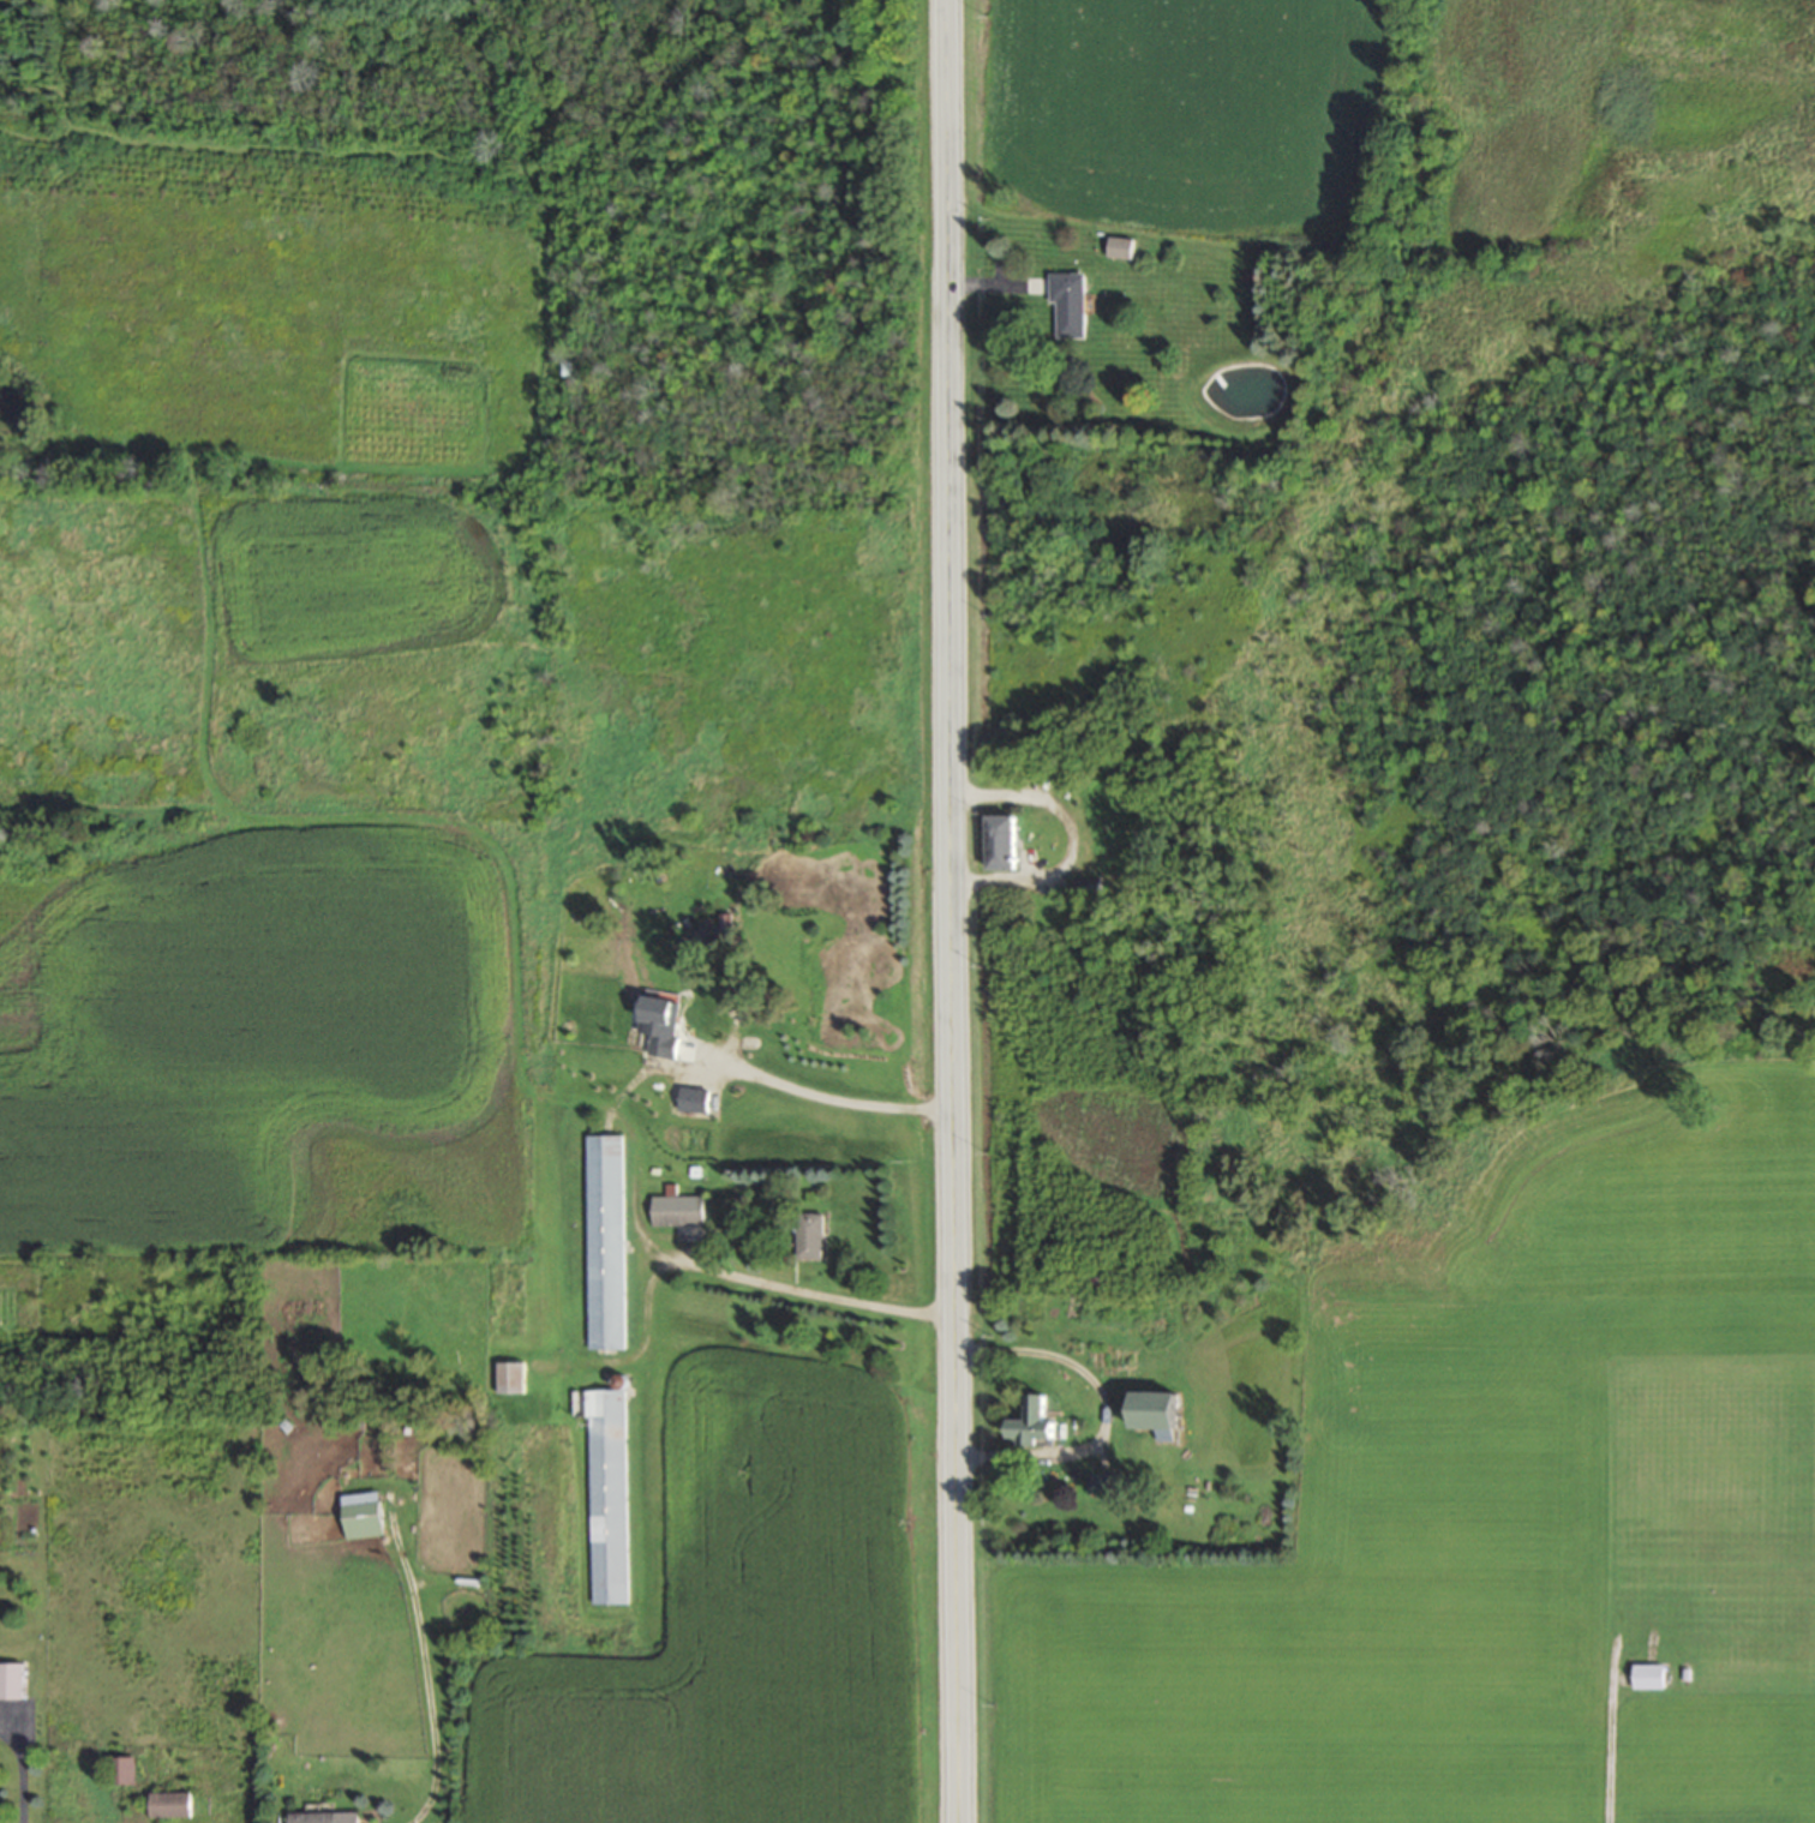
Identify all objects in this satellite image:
building: (1120, 245)
building: (1070, 301)
building: (1005, 840)
building: (1086, 886)
road: (952, 911)
road: (825, 1096)
building: (677, 1207)
building: (810, 1233)
building: (604, 1239)
road: (808, 1293)
building: (510, 1374)
road: (1103, 1408)
building: (1160, 1410)
building: (1036, 1419)
building: (605, 1488)
building: (361, 1512)
building: (11, 1678)
building: (125, 1767)
road: (22, 1771)
building: (174, 1801)
building: (327, 1816)

